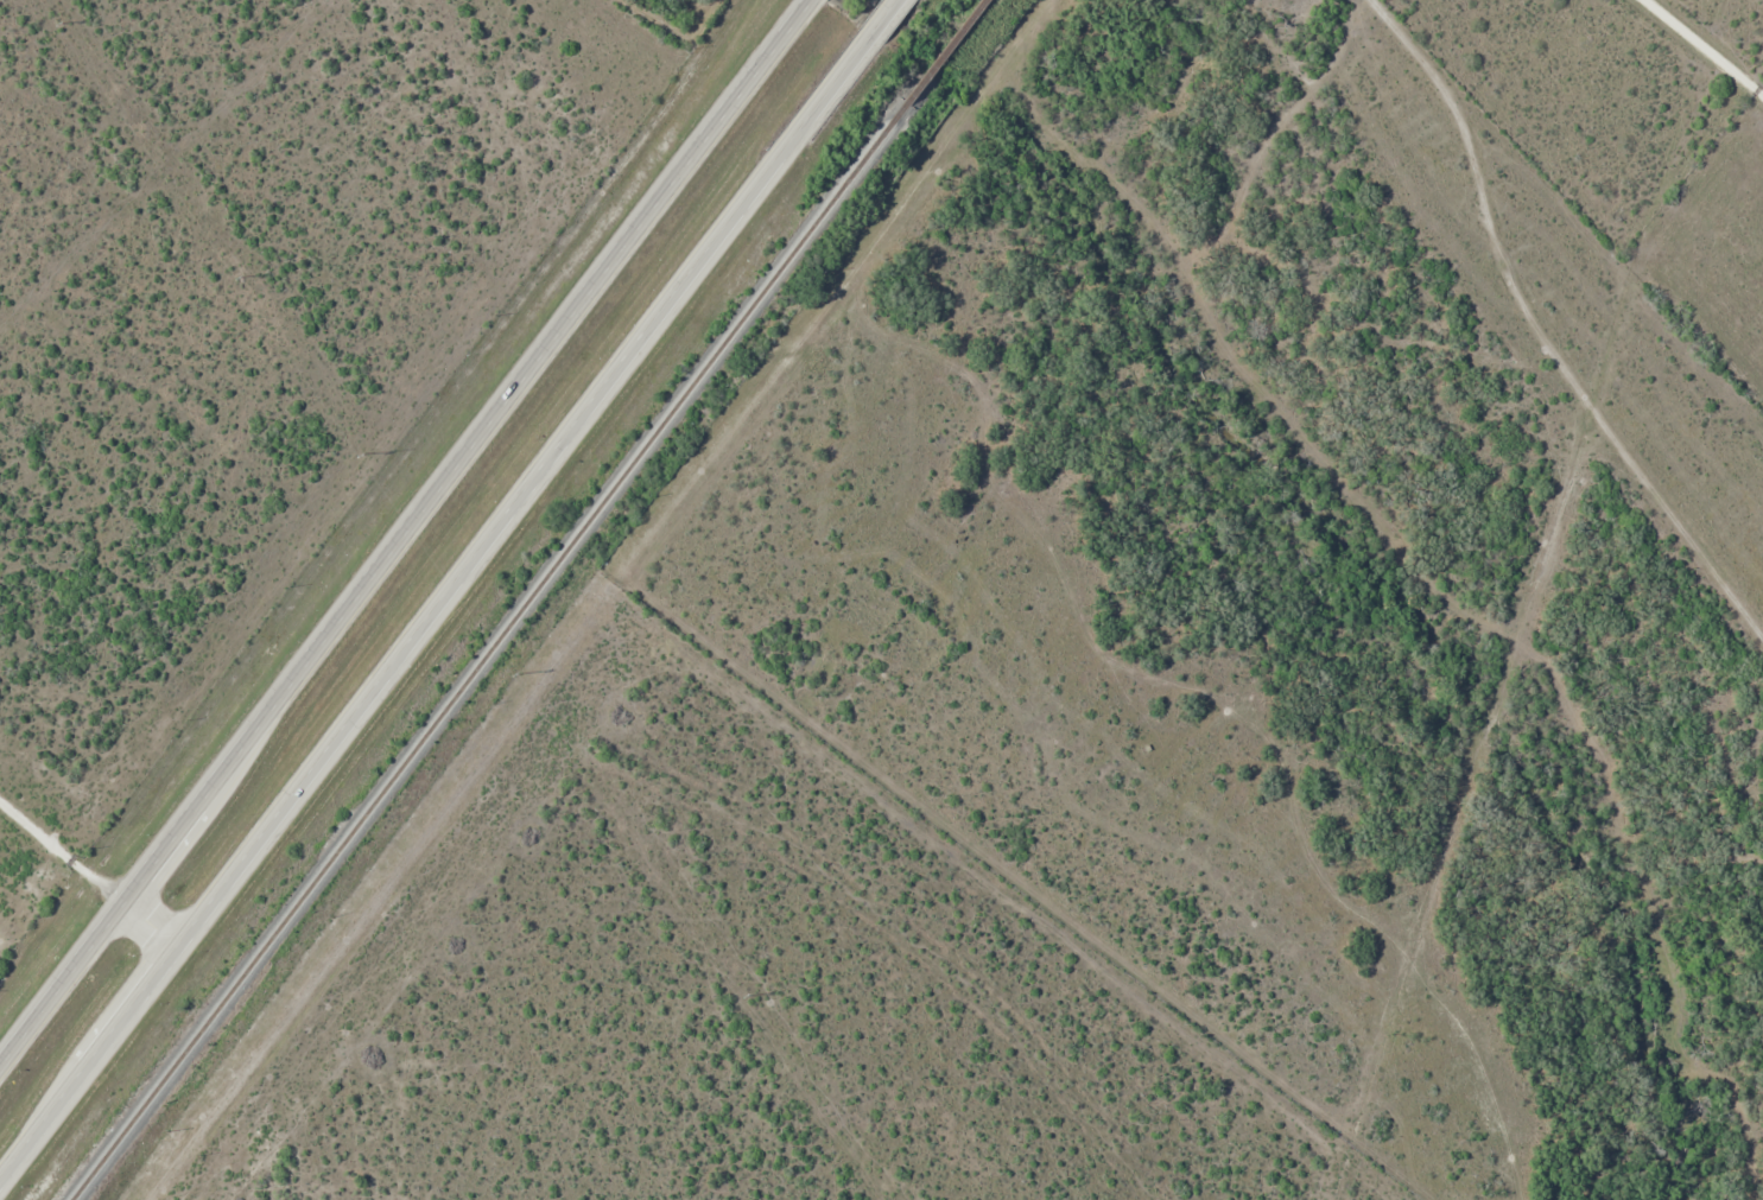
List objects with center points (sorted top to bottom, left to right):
road: (1699, 51)
road: (1542, 331)
road: (799, 377)
road: (407, 538)
road: (449, 589)
railway: (534, 599)
road: (89, 871)

